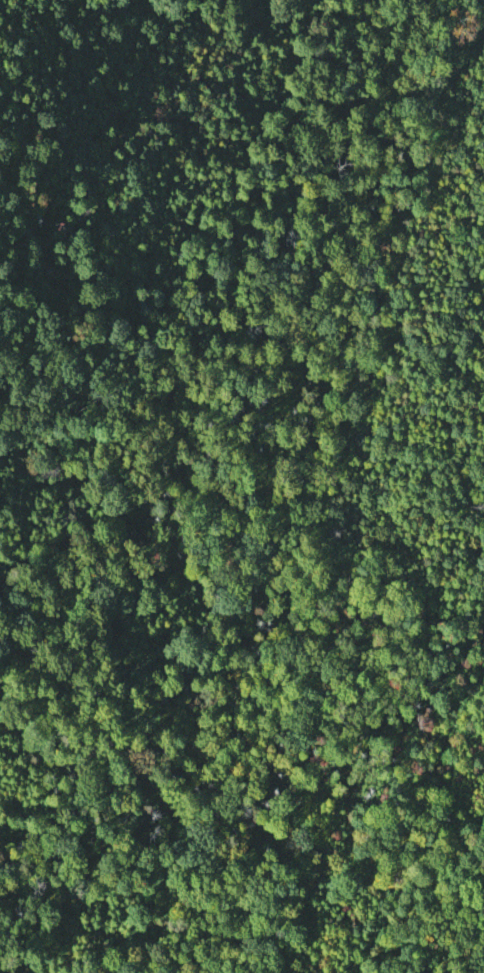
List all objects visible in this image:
road: (480, 648)

